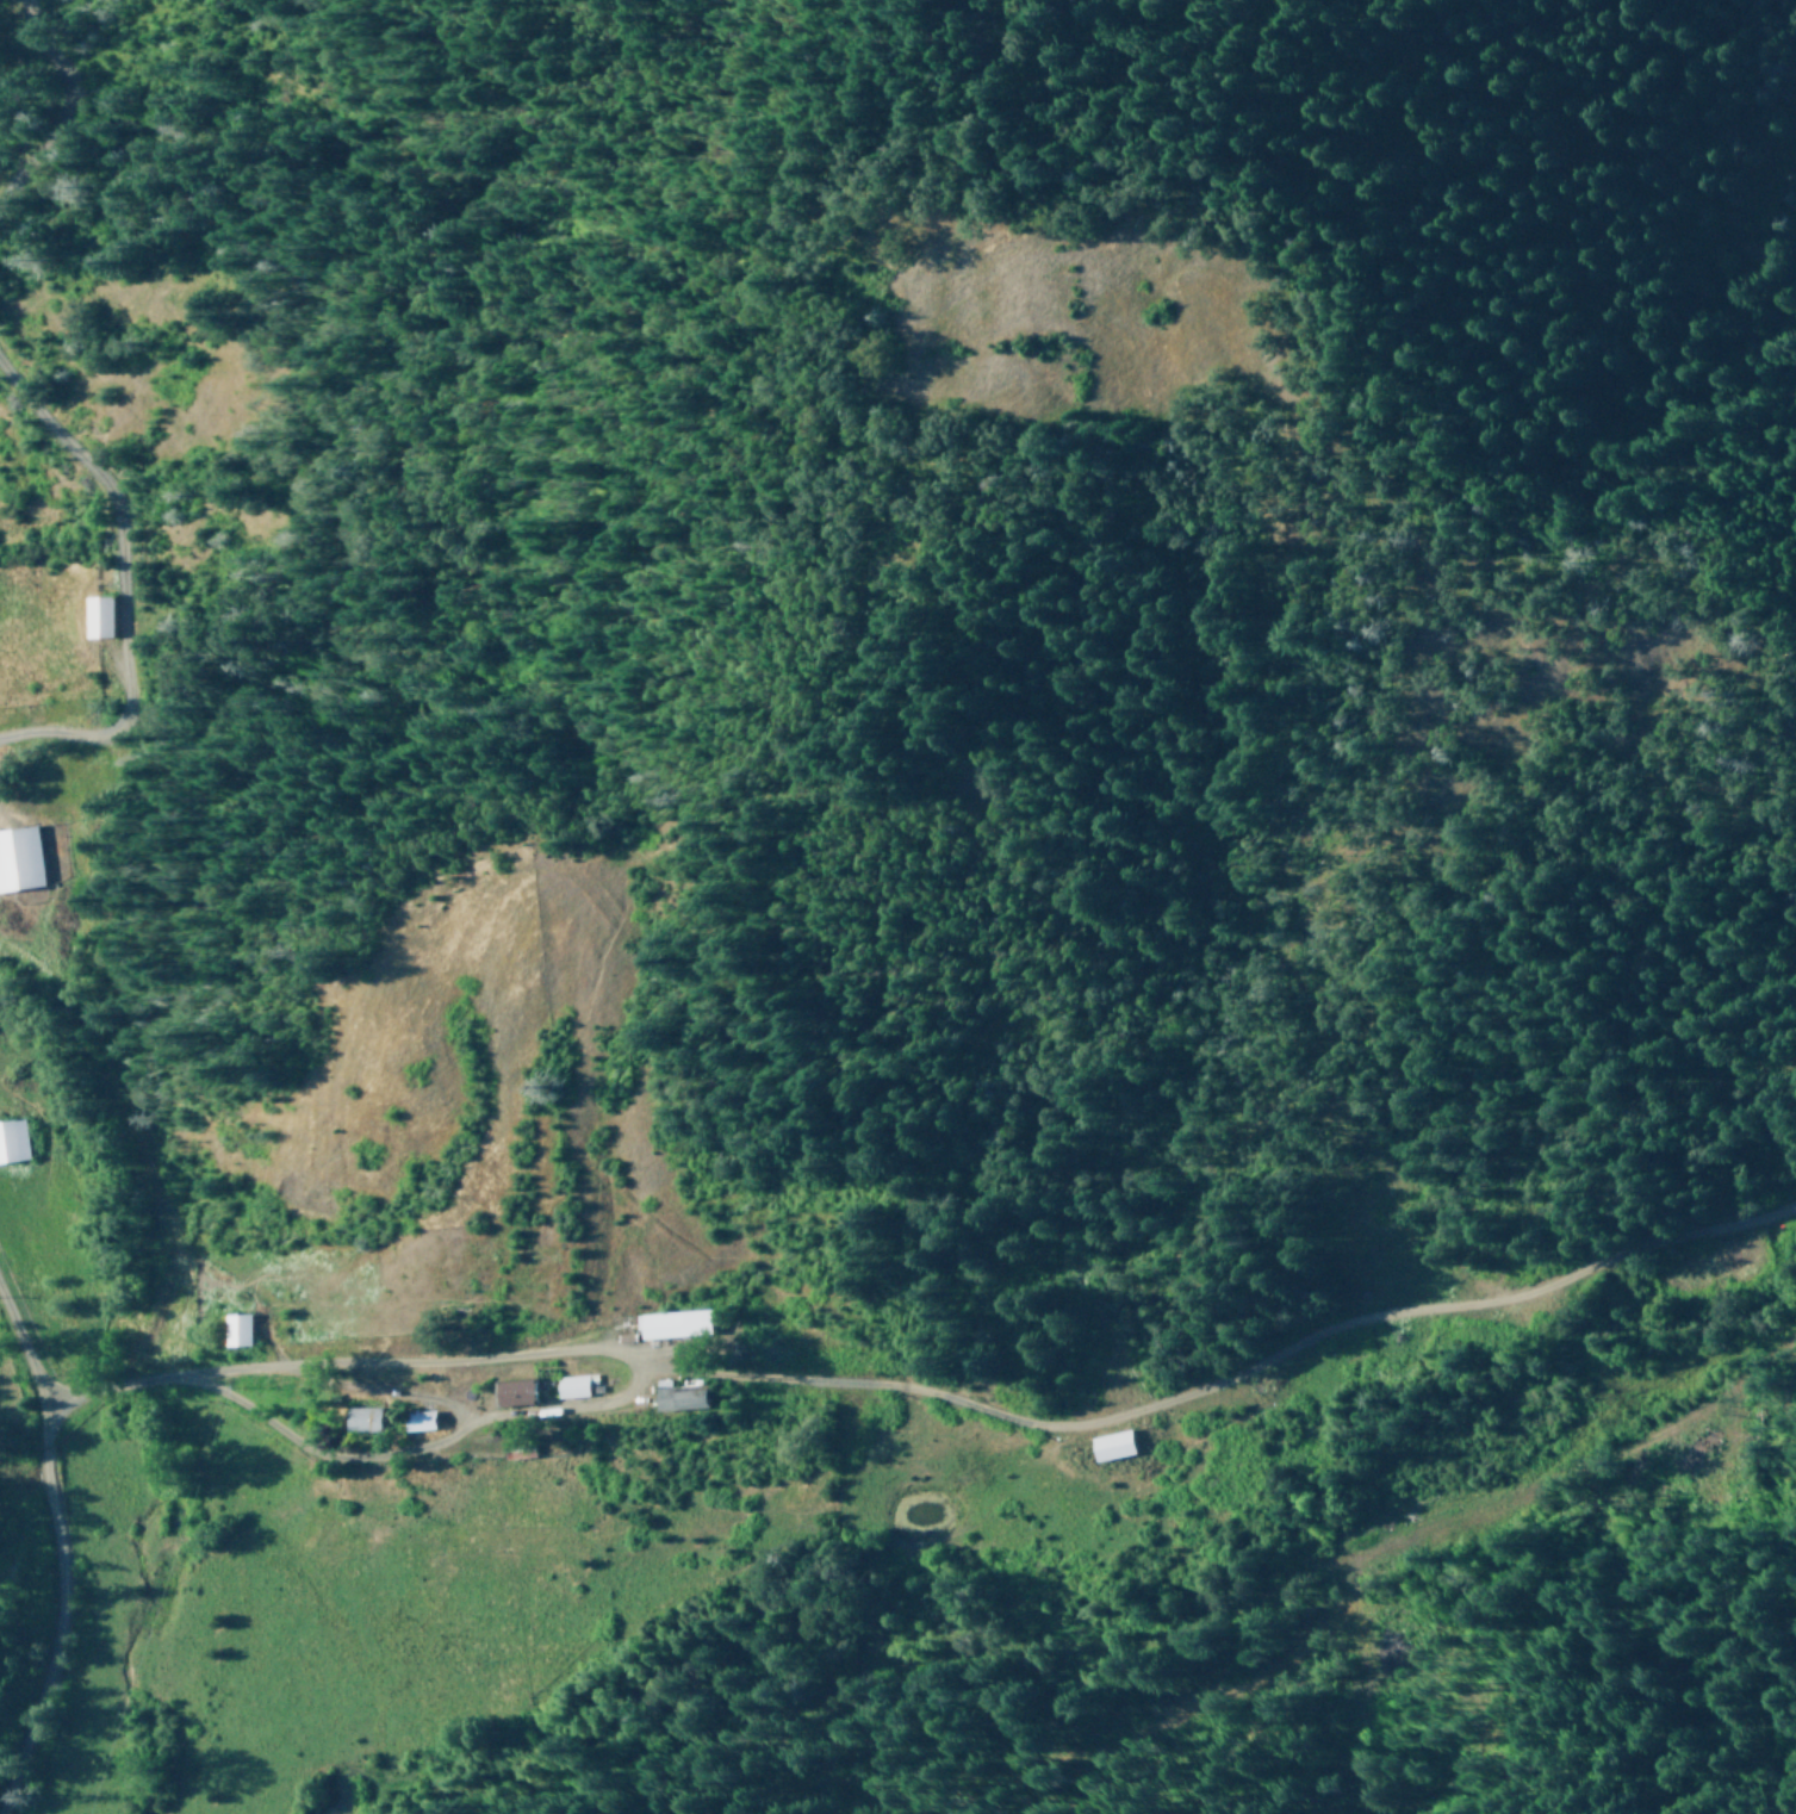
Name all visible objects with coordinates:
road: (46, 151)
building: (95, 616)
building: (19, 858)
road: (113, 959)
building: (12, 1141)
building: (672, 1324)
building: (235, 1330)
road: (596, 1346)
building: (568, 1386)
building: (512, 1392)
building: (677, 1398)
building: (362, 1418)
building: (417, 1419)
building: (1110, 1446)
road: (43, 1449)
road: (895, 1473)
road: (52, 1658)

